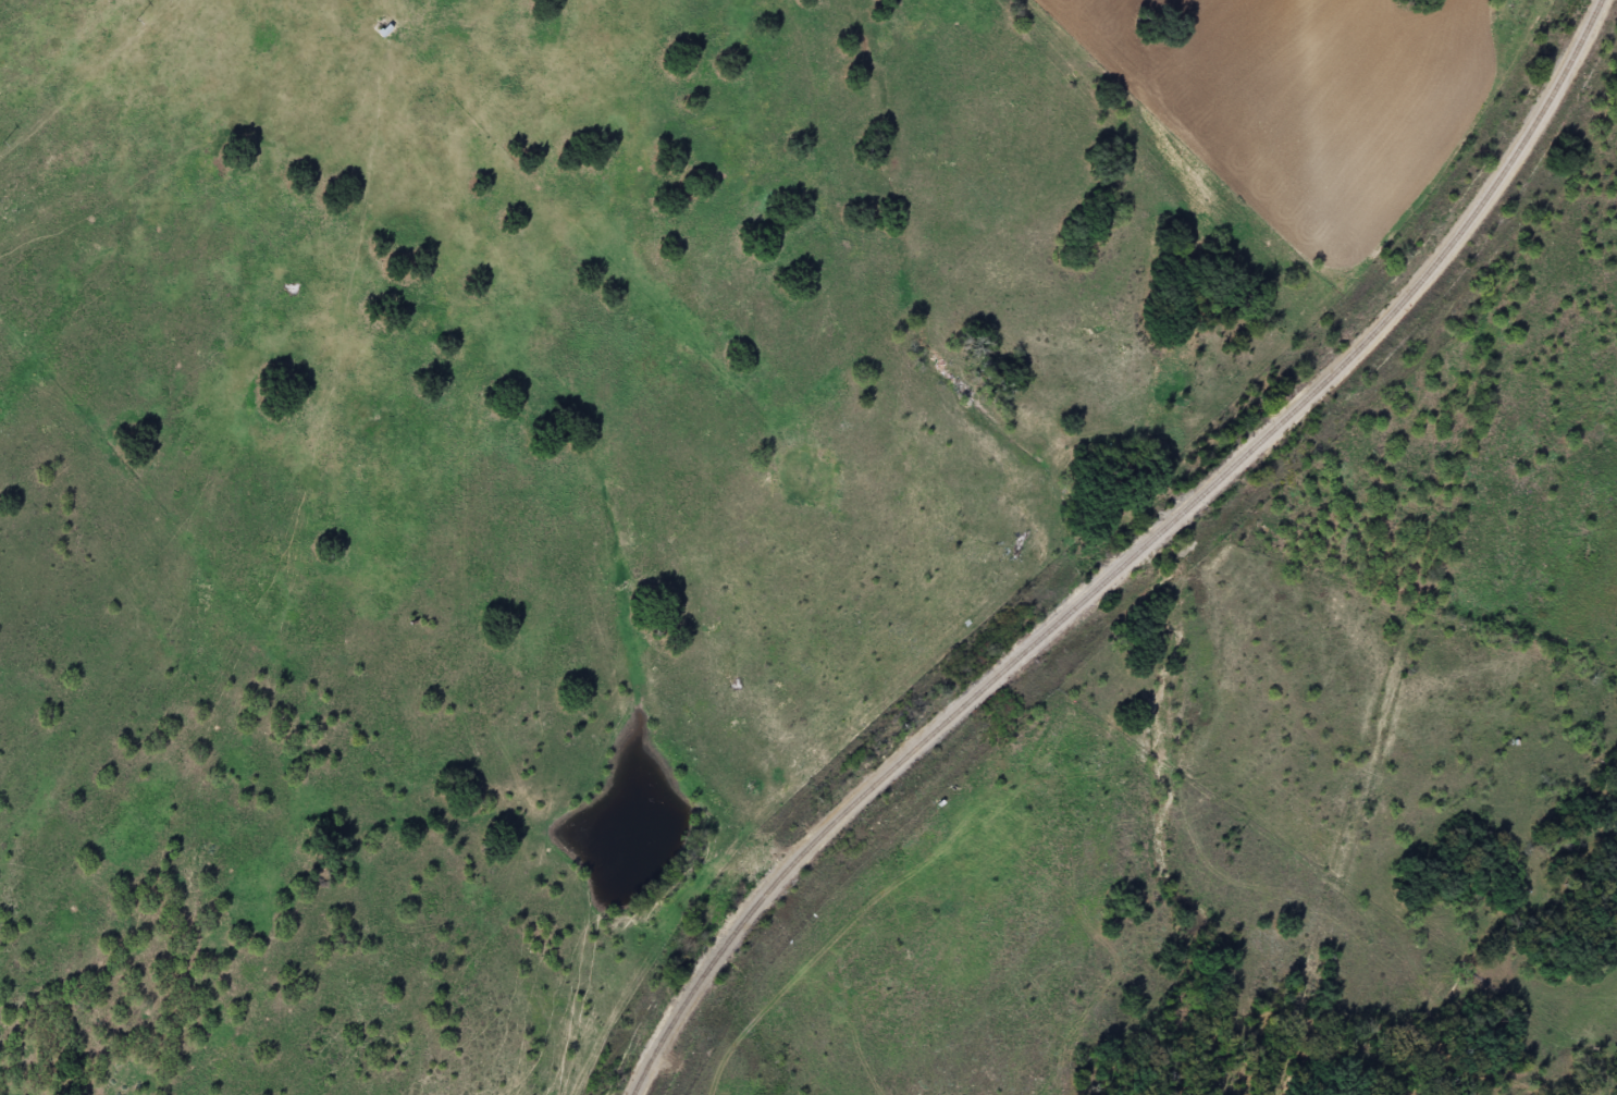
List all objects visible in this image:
railway: (1132, 558)

